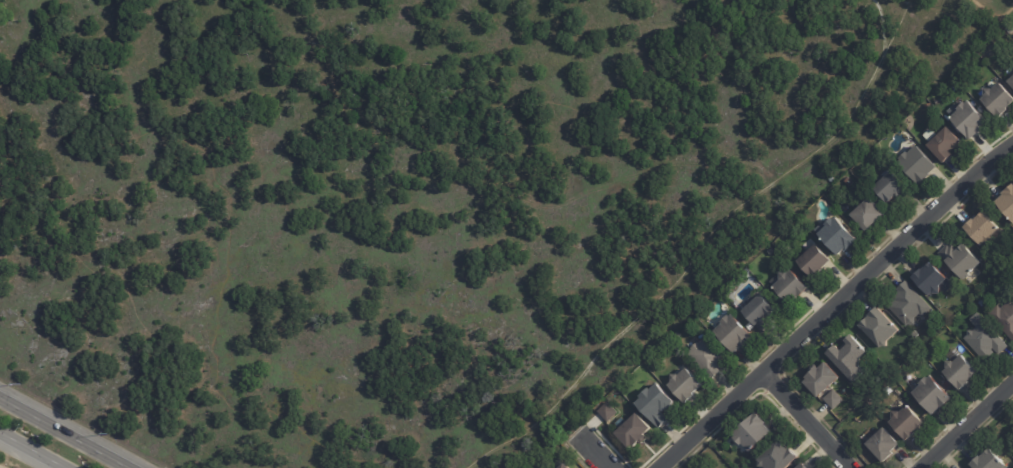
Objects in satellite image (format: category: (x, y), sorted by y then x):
road: (937, 8)
building: (1012, 79)
building: (999, 98)
building: (970, 117)
building: (933, 132)
building: (947, 144)
building: (922, 163)
building: (896, 181)
park: (401, 203)
building: (1007, 203)
building: (870, 215)
road: (225, 225)
building: (983, 230)
building: (838, 236)
road: (701, 245)
building: (817, 259)
building: (964, 259)
building: (933, 279)
building: (796, 283)
building: (911, 303)
road: (832, 304)
building: (761, 309)
building: (1005, 316)
building: (881, 328)
building: (736, 331)
building: (917, 334)
building: (984, 338)
building: (710, 355)
building: (851, 358)
building: (962, 372)
building: (823, 379)
building: (686, 384)
building: (933, 395)
building: (836, 397)
building: (659, 402)
building: (610, 410)
road: (809, 419)
building: (912, 419)
road: (964, 423)
building: (637, 431)
road: (65, 432)
building: (755, 432)
building: (885, 444)
road: (33, 449)
road: (603, 454)
building: (779, 455)
building: (991, 460)
building: (802, 465)
building: (567, 466)
building: (806, 466)

